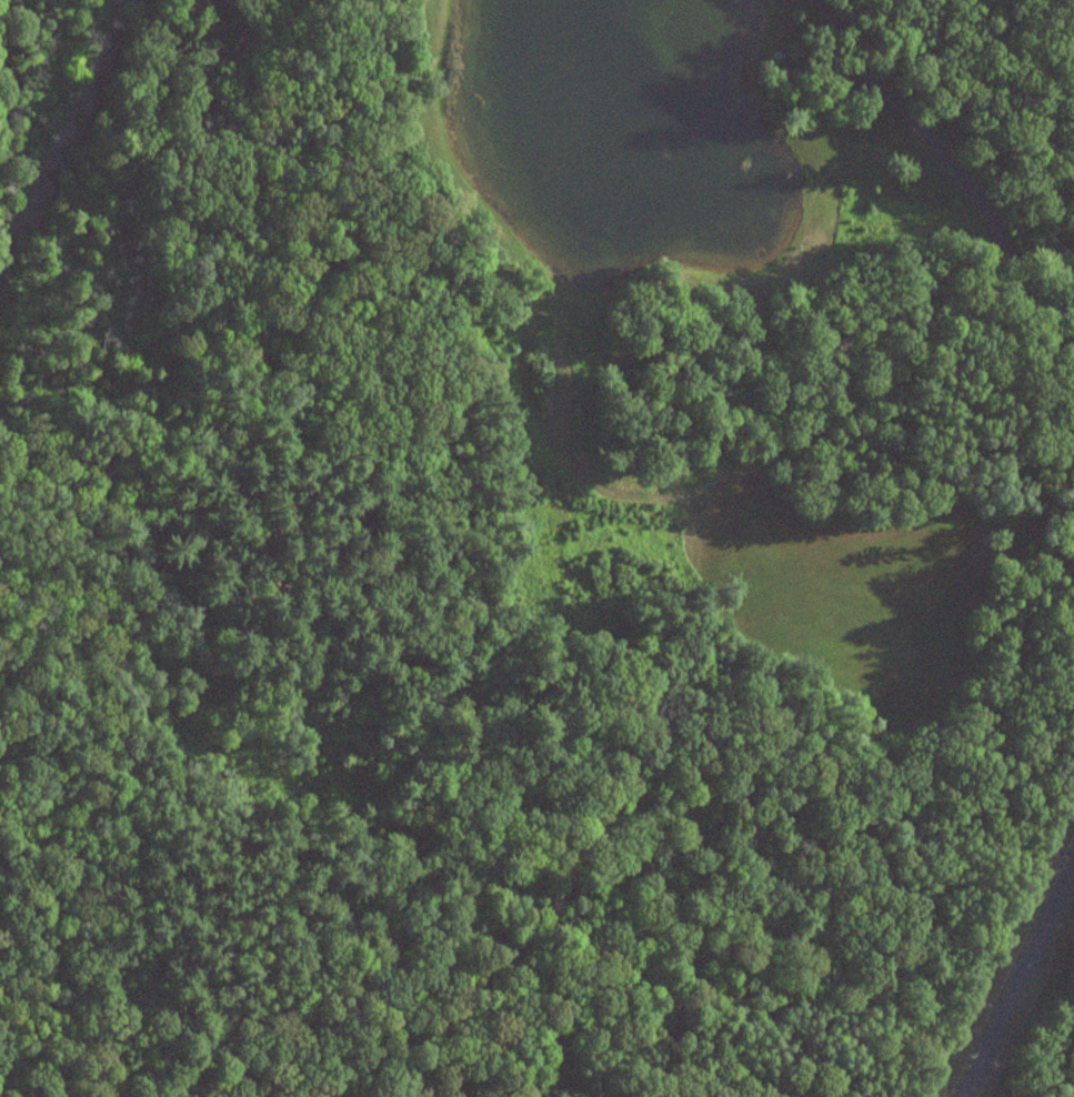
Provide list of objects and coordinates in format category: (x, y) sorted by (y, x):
river: (51, 118)
road: (951, 159)
road: (1014, 969)

